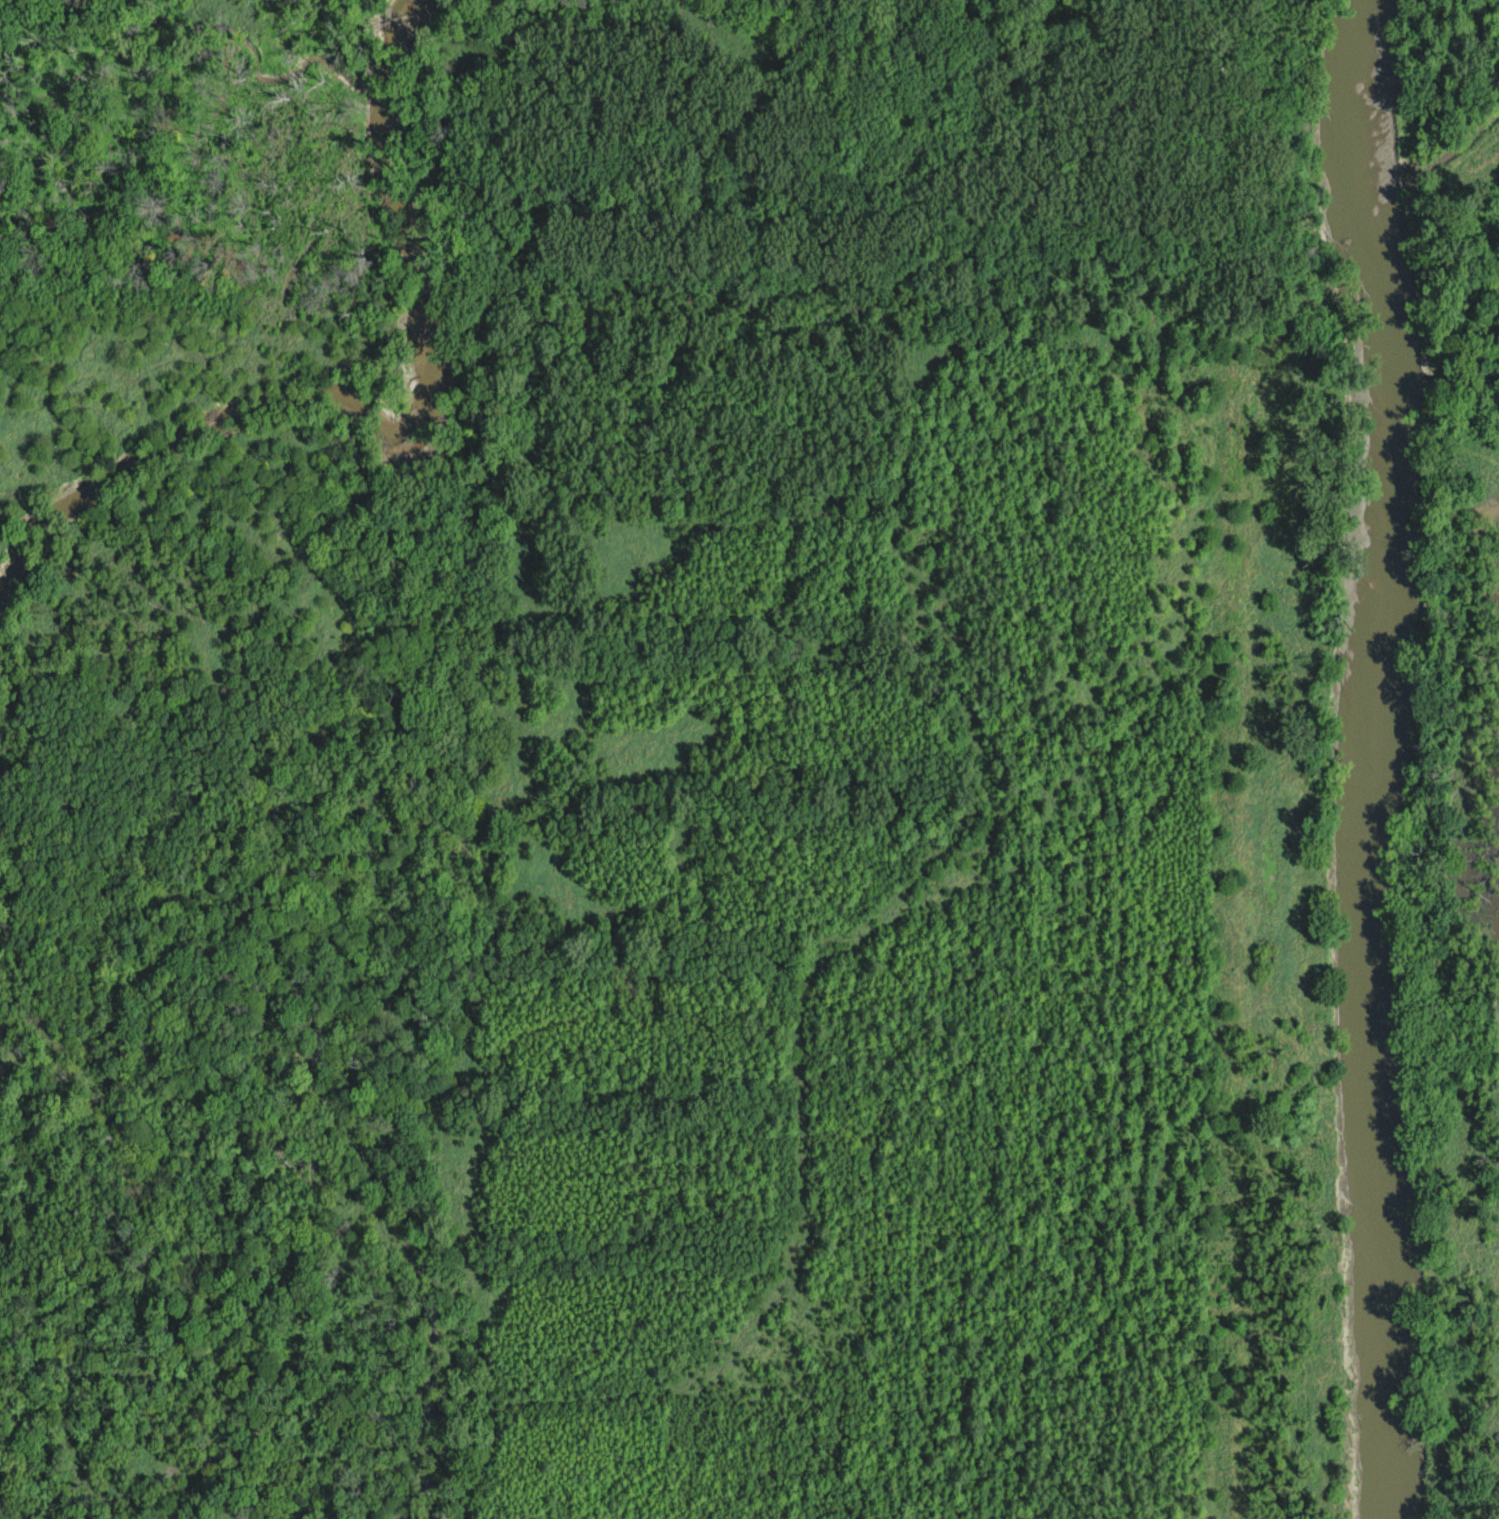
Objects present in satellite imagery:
river: (1368, 756)

